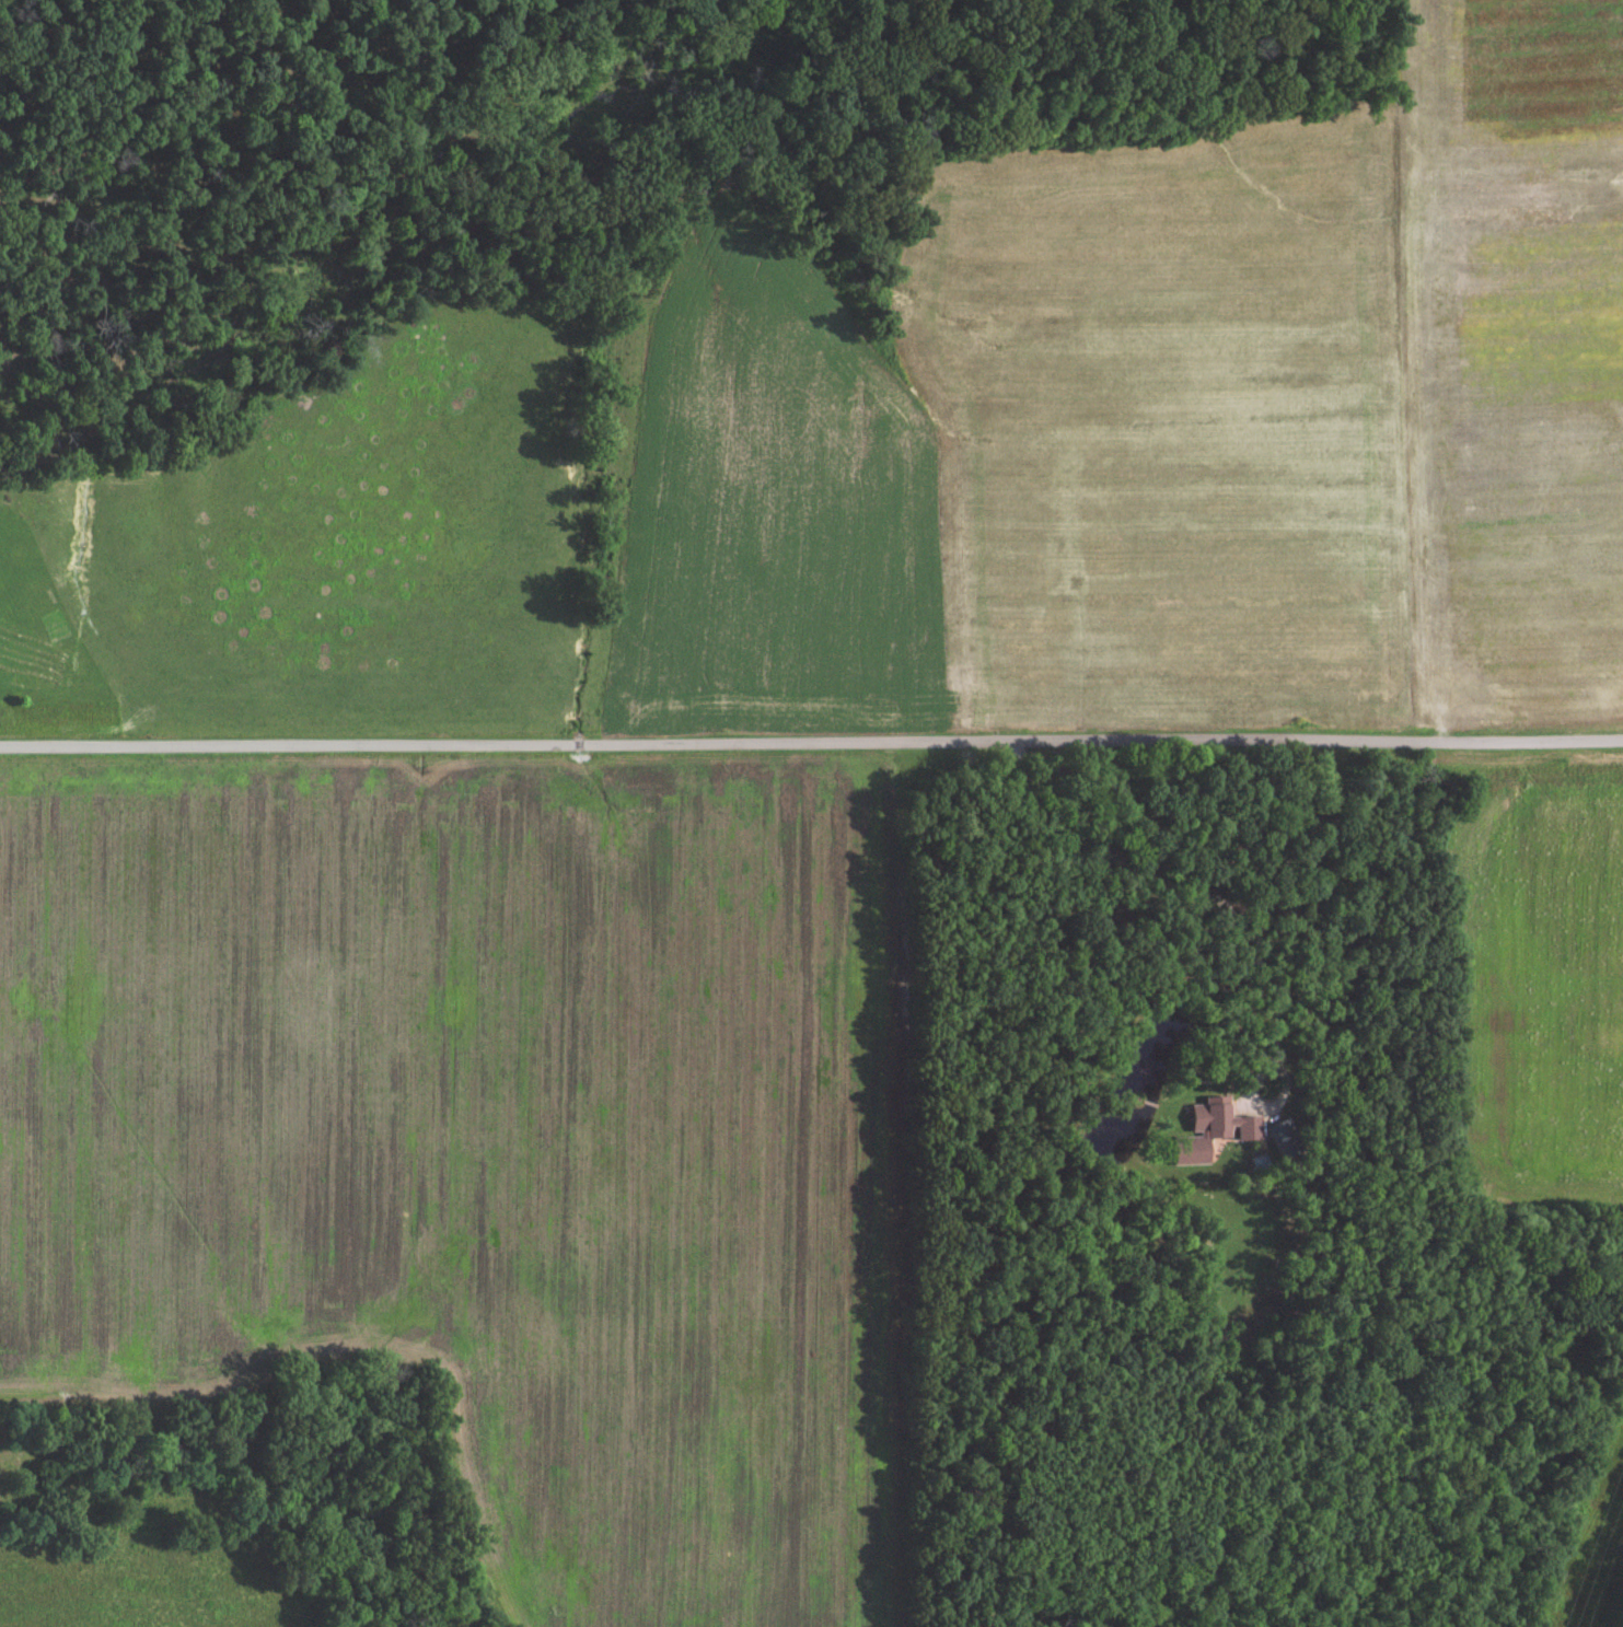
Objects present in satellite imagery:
road: (811, 741)
road: (1170, 881)
building: (1206, 1136)

